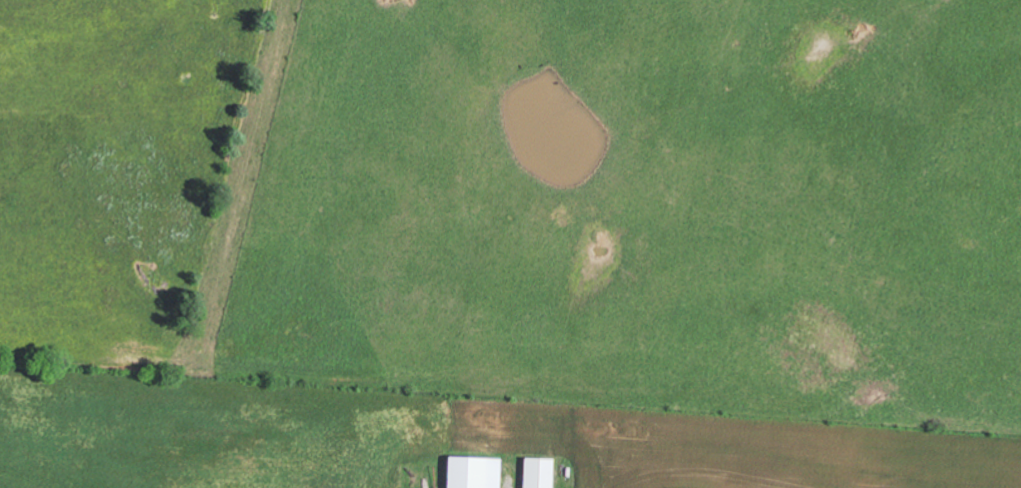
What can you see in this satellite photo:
building: (480, 471)
building: (544, 472)

